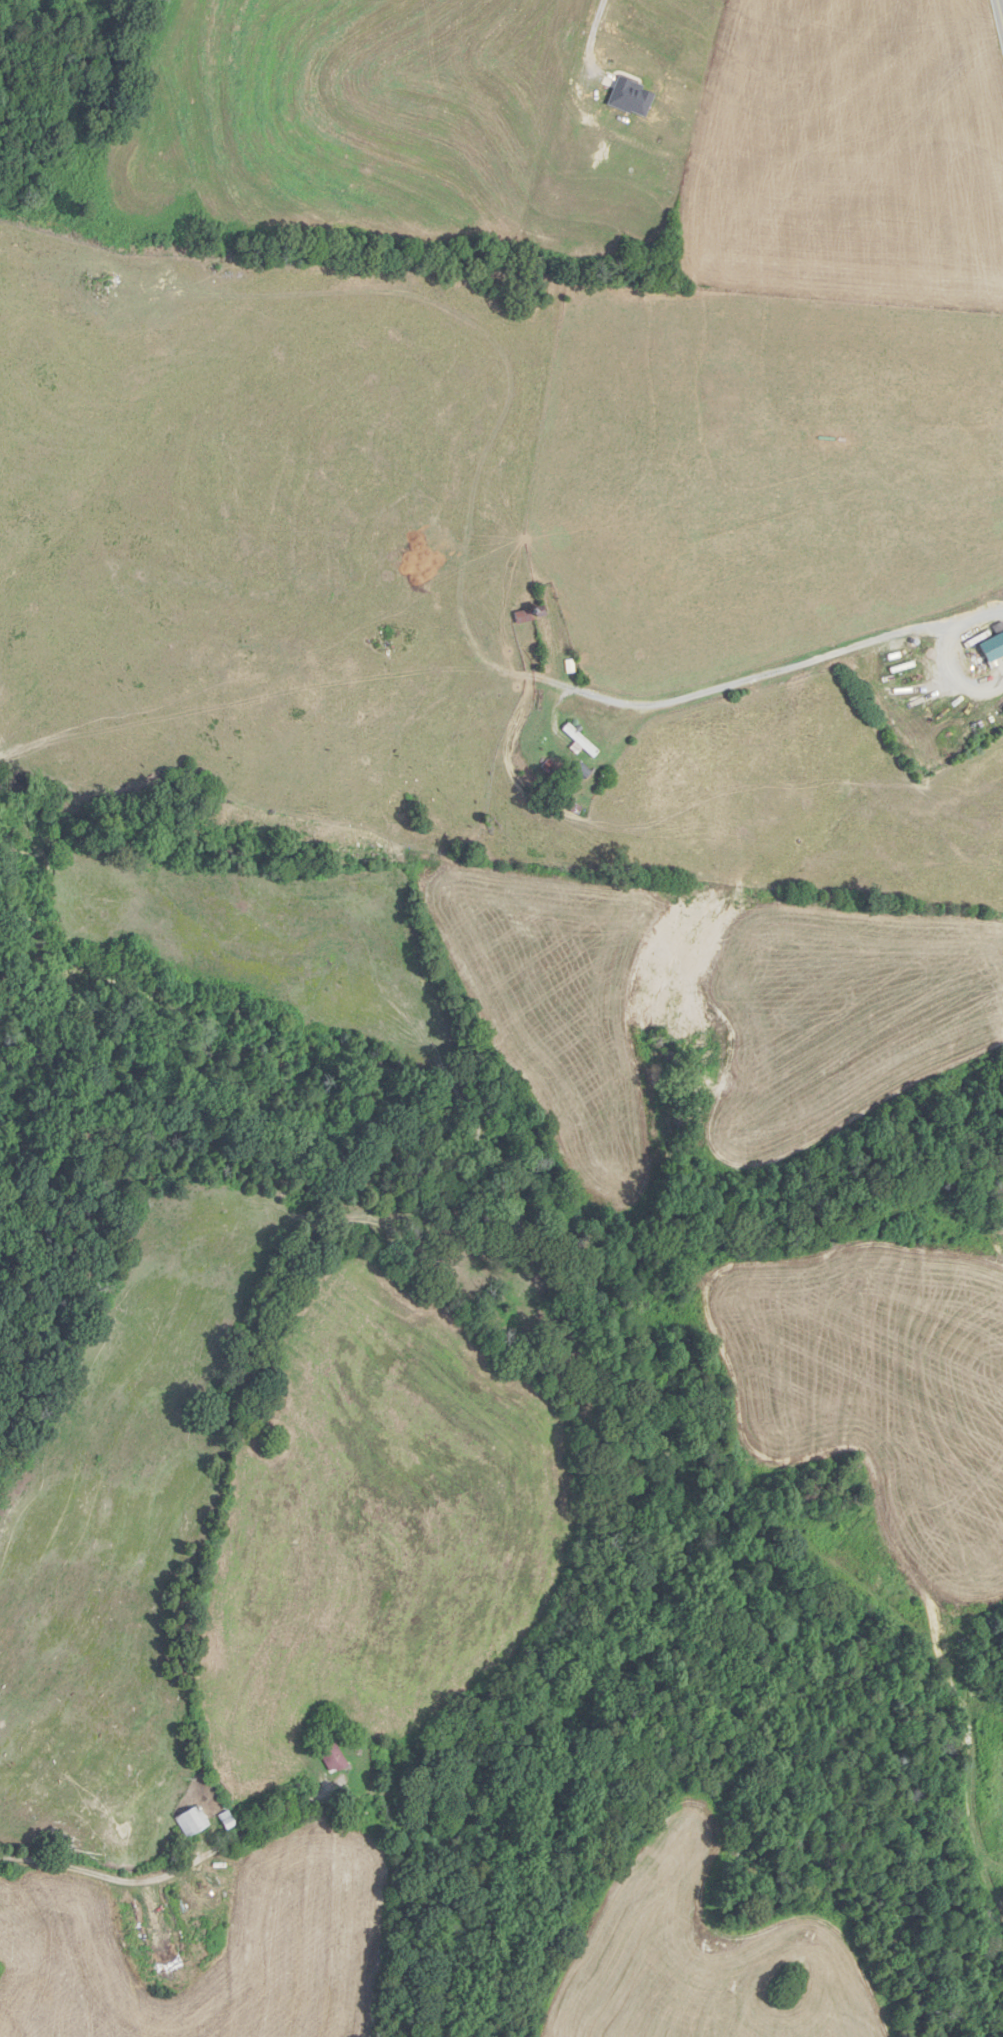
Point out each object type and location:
road: (1000, 9)
road: (589, 41)
building: (544, 612)
building: (525, 616)
building: (583, 741)
building: (335, 1758)
building: (195, 1821)
road: (172, 1873)

